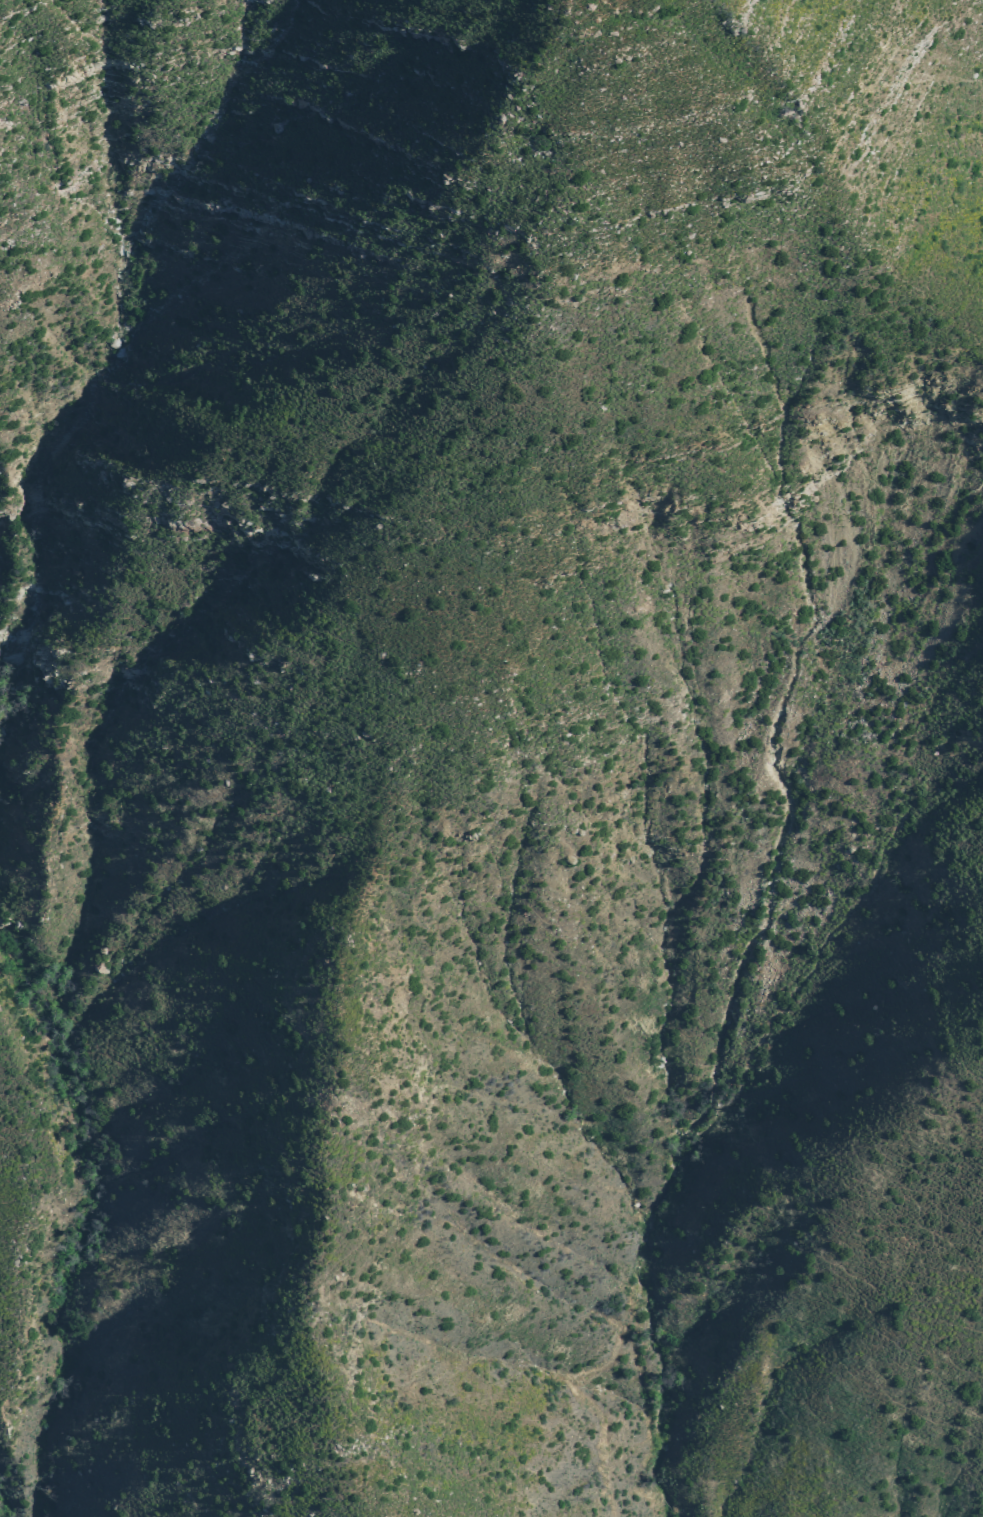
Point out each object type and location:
road: (564, 1376)

